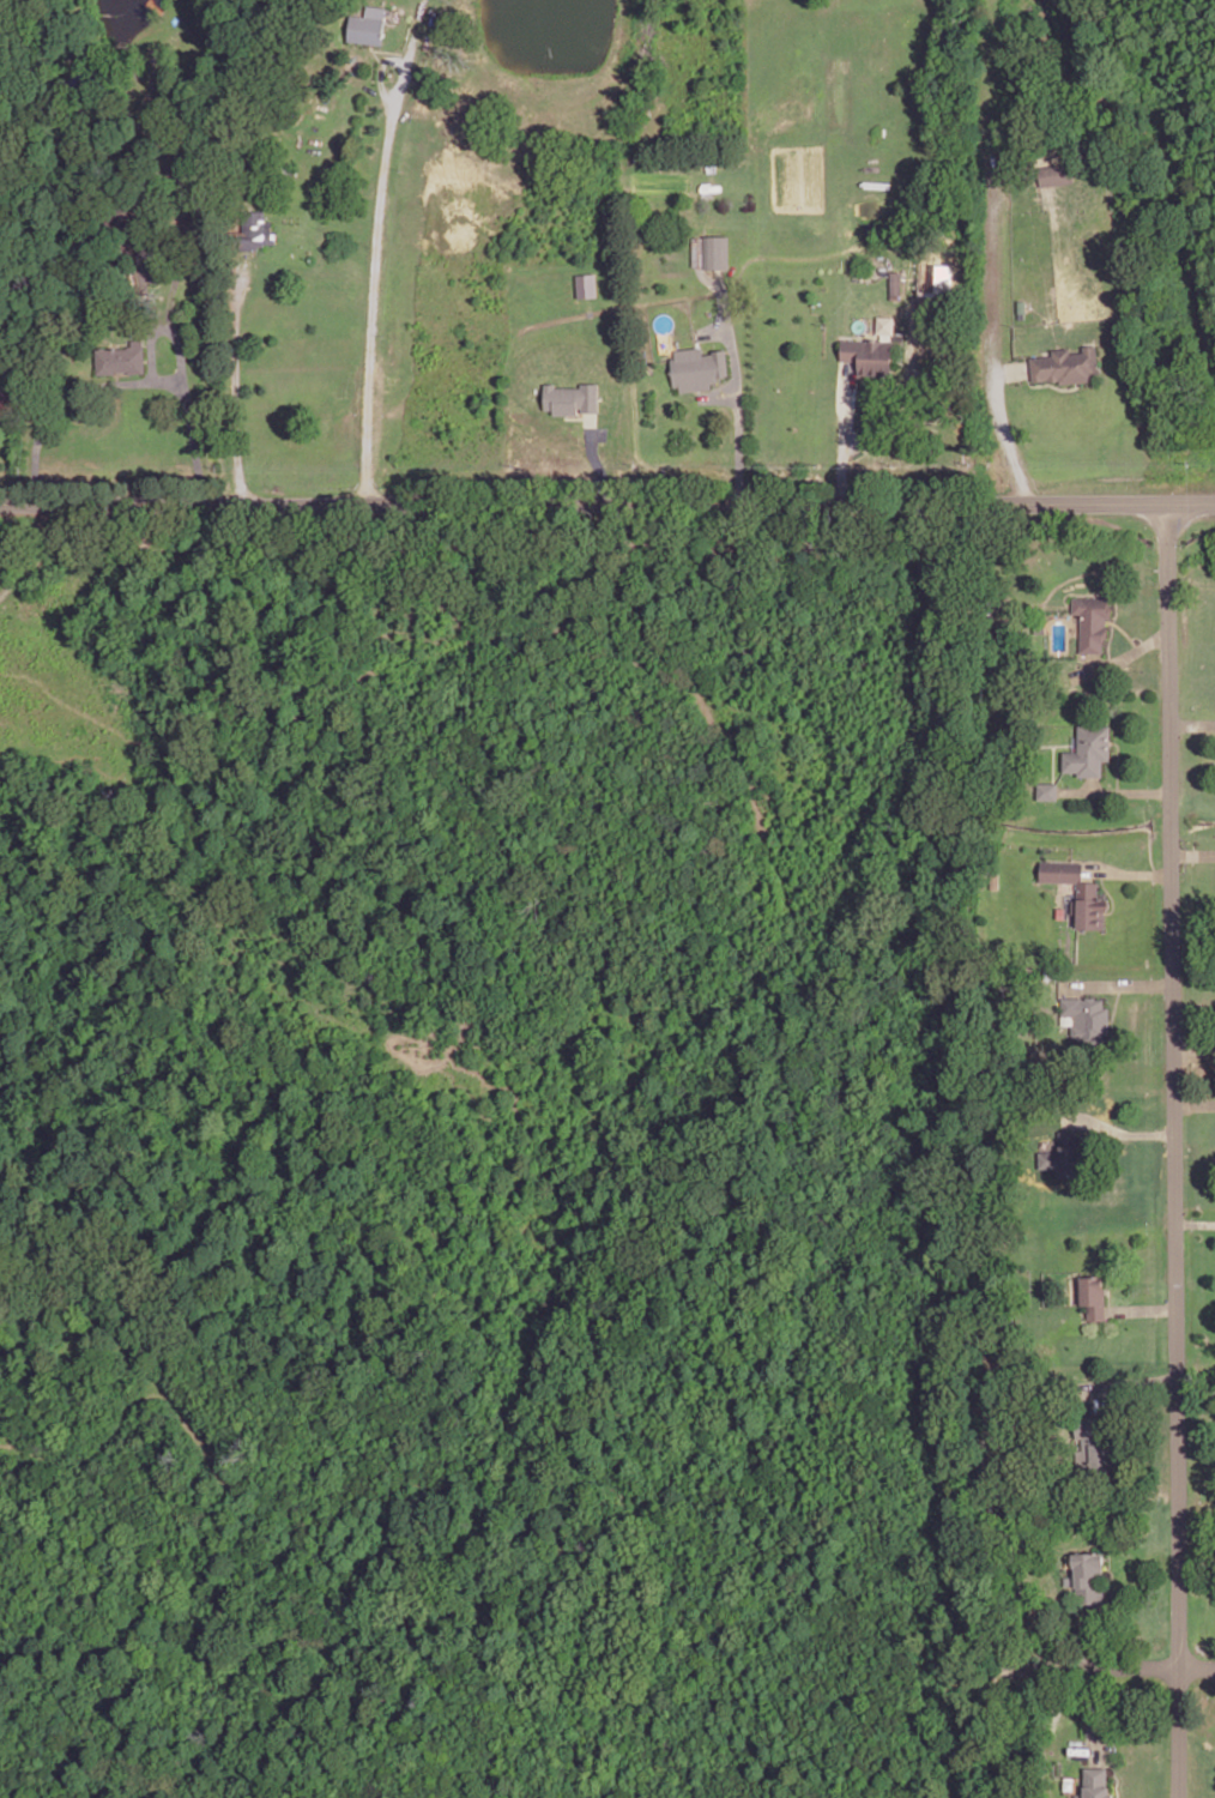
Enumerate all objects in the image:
building: (368, 24)
road: (379, 74)
building: (1056, 171)
building: (256, 228)
building: (718, 249)
road: (375, 253)
building: (157, 271)
building: (896, 280)
building: (585, 285)
road: (992, 304)
building: (884, 325)
road: (151, 342)
building: (869, 352)
building: (121, 358)
building: (1068, 362)
building: (697, 366)
road: (1011, 369)
road: (1050, 381)
road: (235, 384)
road: (736, 386)
road: (66, 394)
road: (719, 394)
building: (574, 396)
building: (6, 402)
road: (188, 408)
road: (846, 434)
road: (592, 457)
road: (606, 501)
street lamp: (1181, 543)
road: (40, 554)
building: (1094, 620)
road: (1124, 629)
road: (1123, 657)
flagpole: (1142, 669)
road: (1192, 723)
building: (1090, 748)
road: (1117, 762)
building: (1047, 789)
road: (1116, 790)
road: (1193, 853)
road: (1130, 871)
building: (1088, 888)
road: (1118, 984)
road: (1116, 1000)
building: (1089, 1010)
road: (1195, 1049)
road: (1195, 1103)
road: (1136, 1132)
road: (1175, 1150)
building: (1064, 1158)
road: (1196, 1221)
building: (1092, 1296)
road: (1142, 1309)
road: (1126, 1380)
road: (1196, 1399)
building: (1093, 1440)
building: (1090, 1574)
road: (1116, 1670)
road: (1087, 1705)
building: (1096, 1784)

